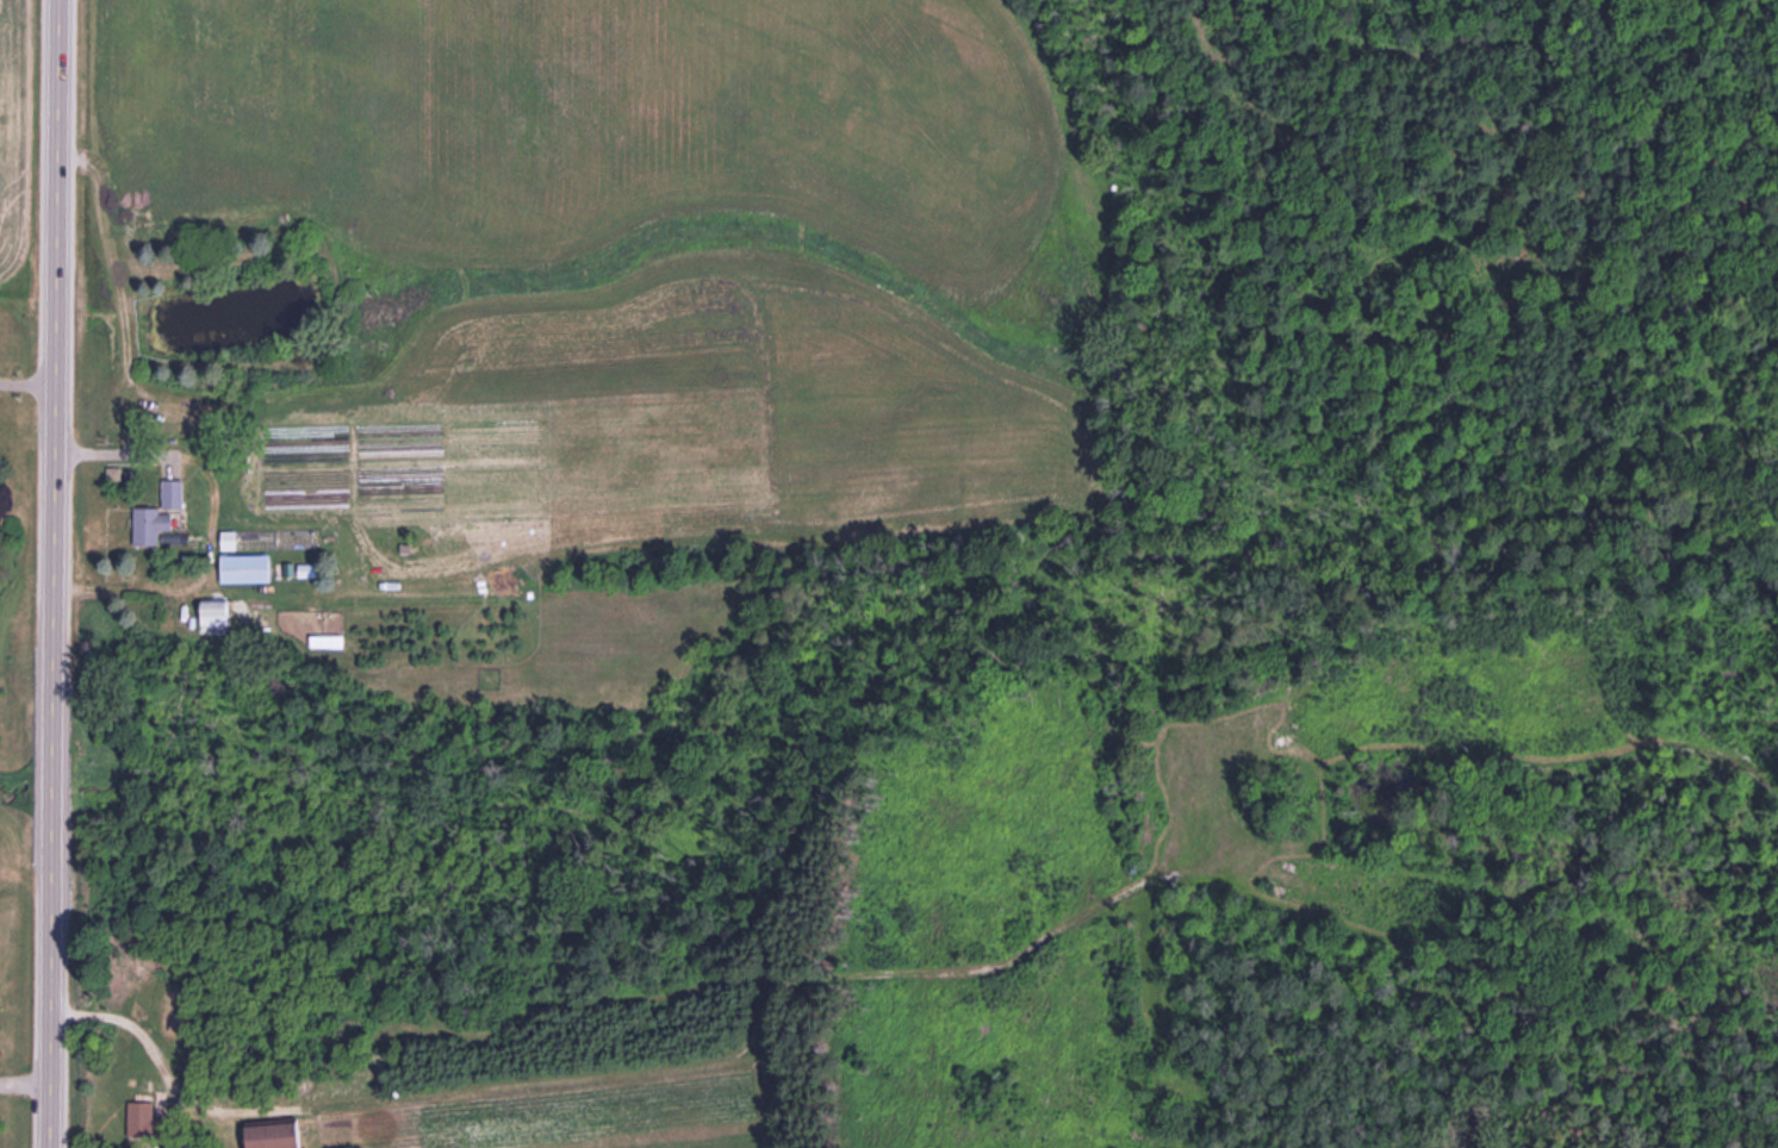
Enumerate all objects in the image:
building: (160, 518)
building: (248, 568)
road: (56, 574)
building: (218, 612)
road: (228, 1018)
building: (141, 1118)
building: (276, 1134)

